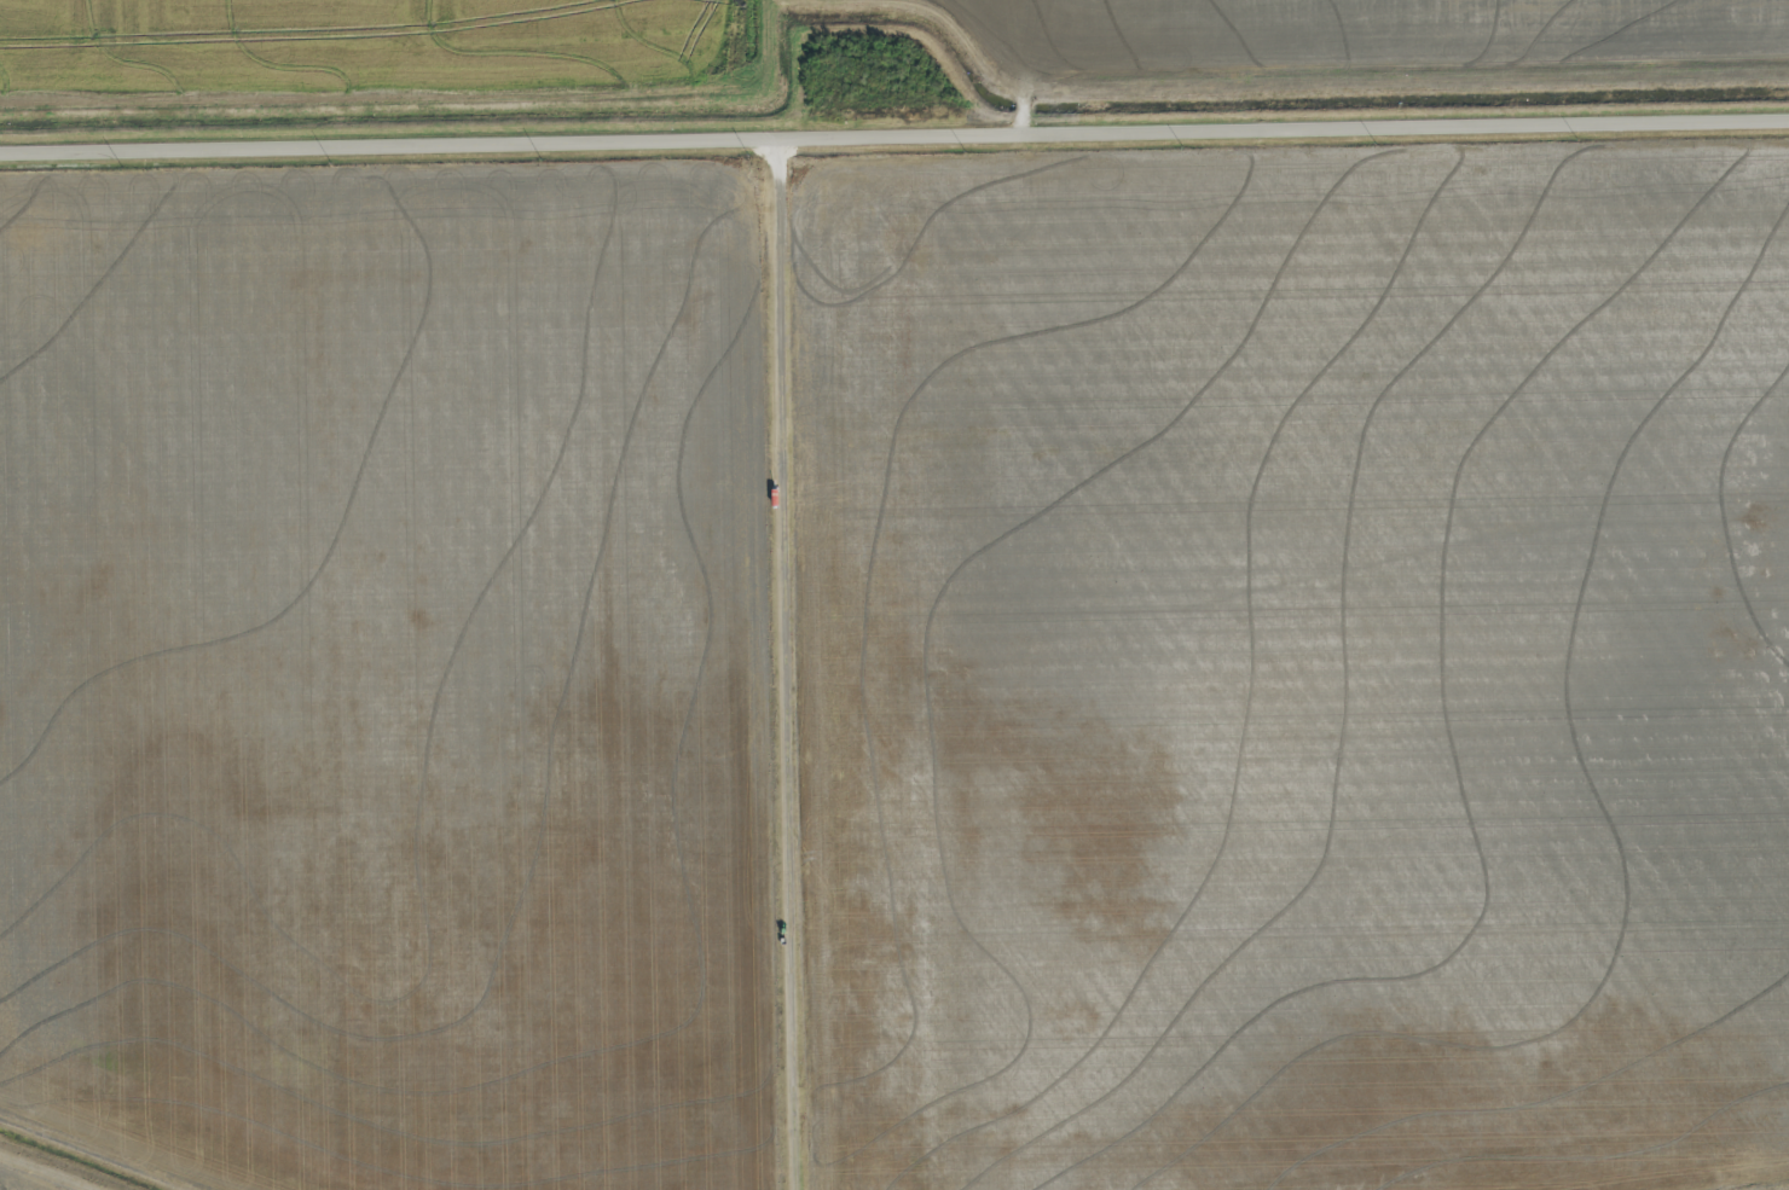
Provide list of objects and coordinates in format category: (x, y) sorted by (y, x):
road: (893, 140)
road: (788, 666)

